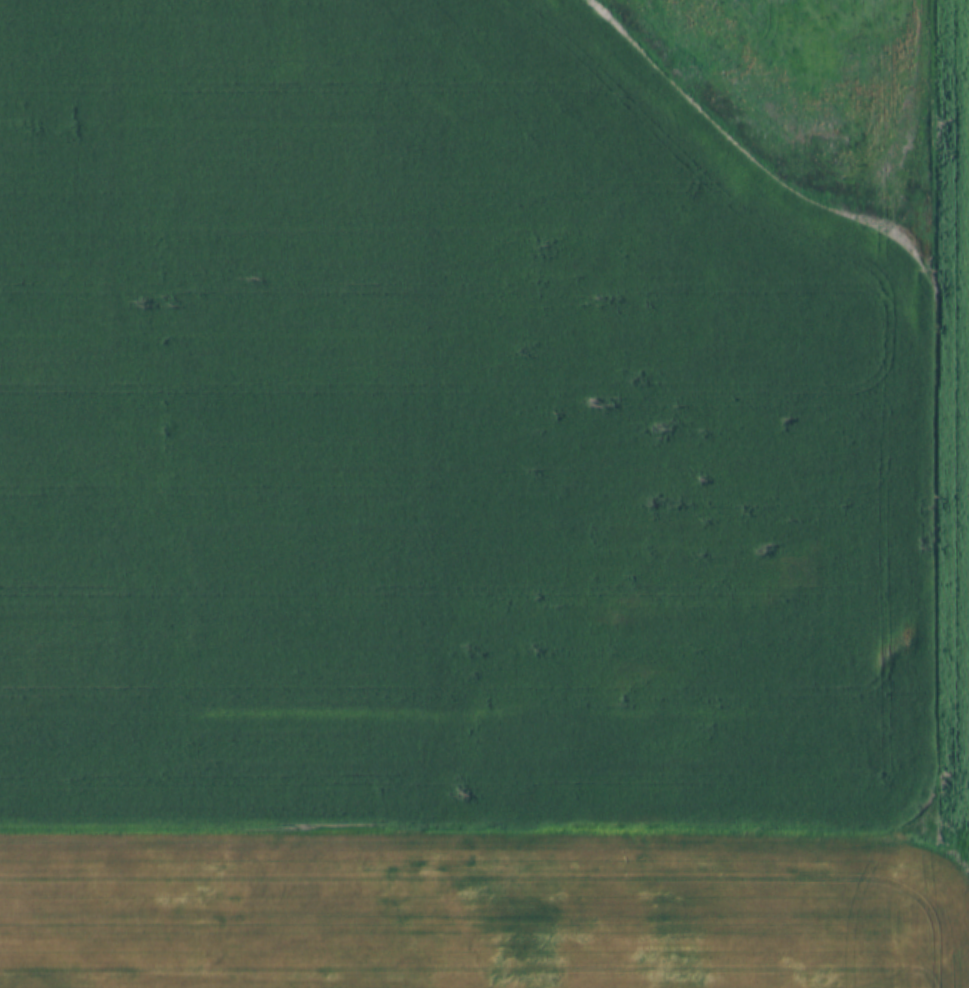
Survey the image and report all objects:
road: (939, 433)

